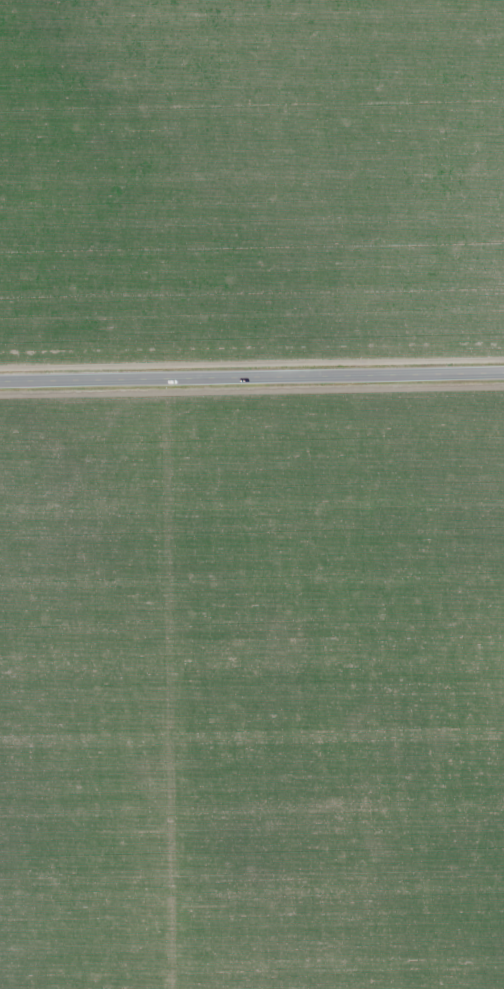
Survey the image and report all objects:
railway: (300, 332)
road: (252, 379)

